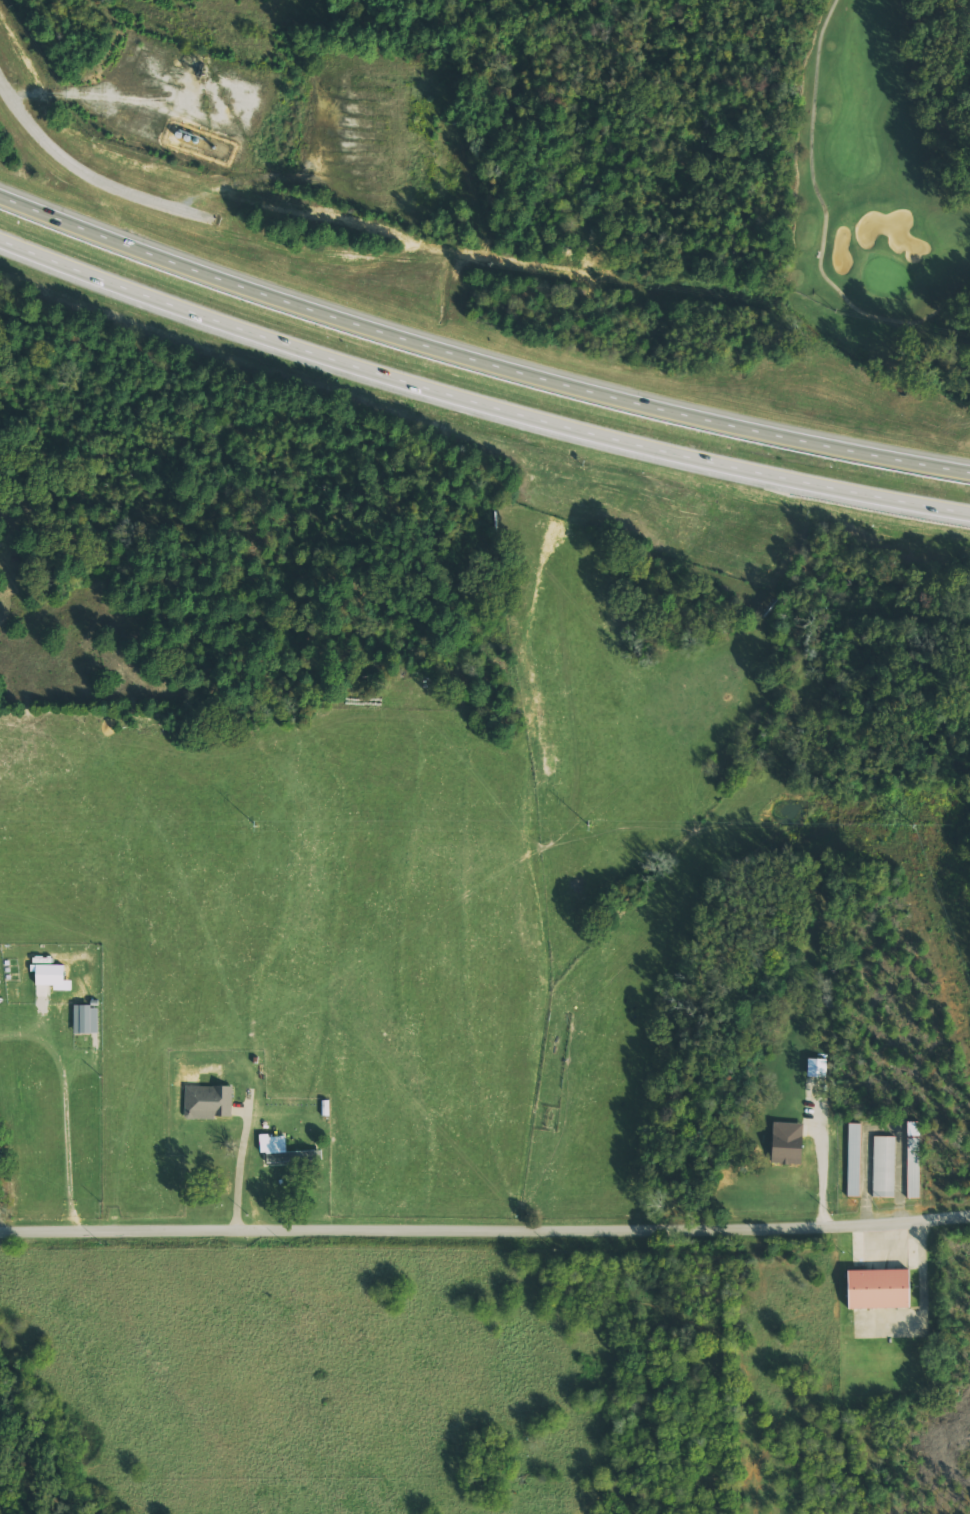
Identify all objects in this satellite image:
park: (882, 162)
road: (88, 174)
road: (826, 219)
road: (477, 360)
road: (477, 401)
building: (816, 1067)
building: (208, 1102)
building: (785, 1143)
building: (285, 1151)
building: (853, 1159)
building: (883, 1166)
road: (485, 1231)
building: (891, 1295)

